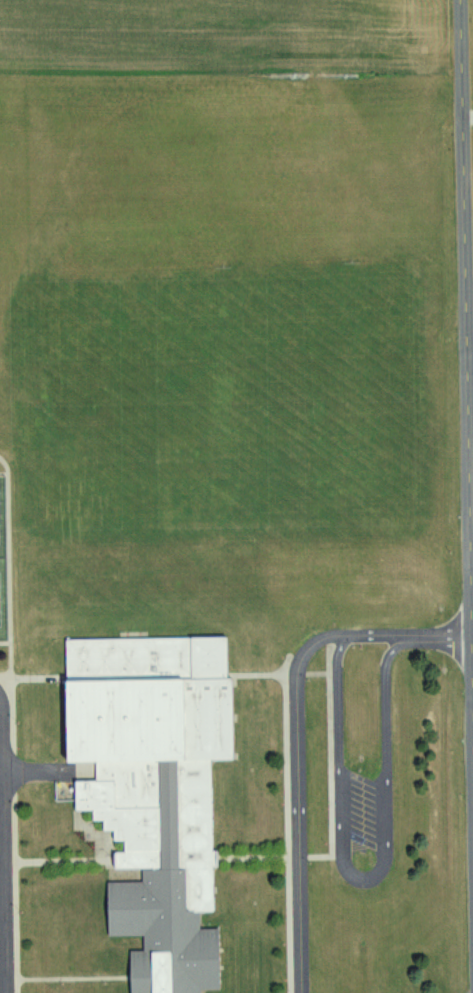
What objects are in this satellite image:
crop: (221, 33)
road: (469, 114)
road: (467, 228)
road: (471, 332)
road: (452, 640)
road: (319, 674)
road: (261, 675)
road: (296, 675)
road: (38, 678)
road: (8, 679)
road: (17, 714)
road: (335, 747)
road: (299, 758)
road: (19, 774)
building: (161, 790)
road: (293, 824)
flagpole: (123, 842)
parking lot: (8, 849)
road: (2, 852)
road: (257, 857)
road: (300, 857)
road: (321, 857)
road: (10, 861)
road: (67, 861)
road: (377, 881)
road: (22, 895)
road: (74, 979)

